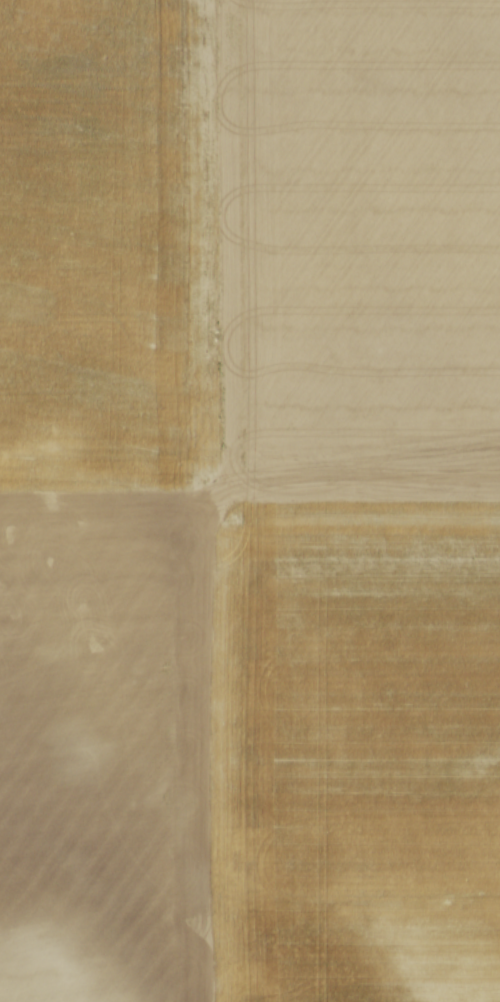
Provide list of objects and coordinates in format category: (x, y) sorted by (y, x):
crop: (250, 501)

